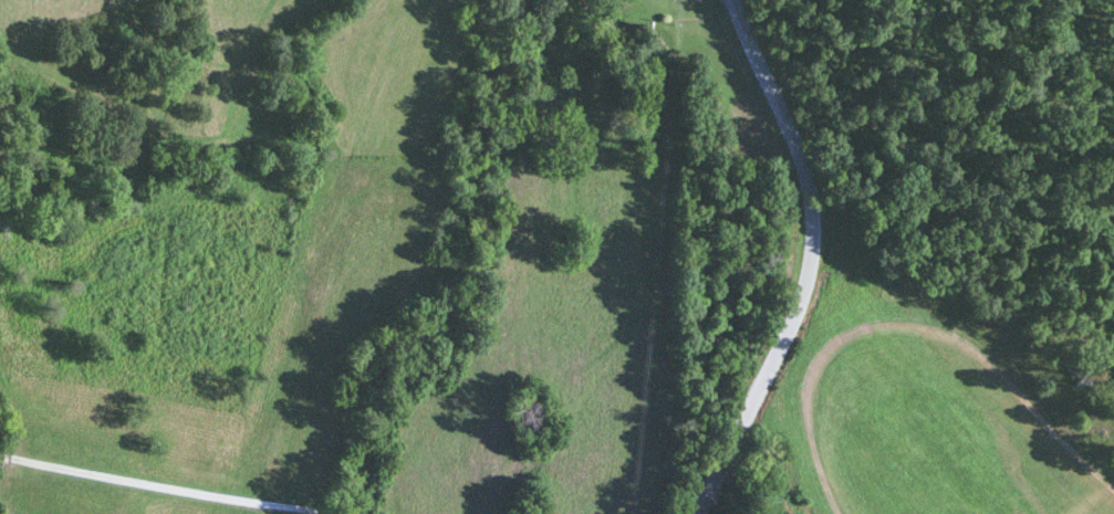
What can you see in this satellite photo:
road: (805, 261)
road: (156, 484)

